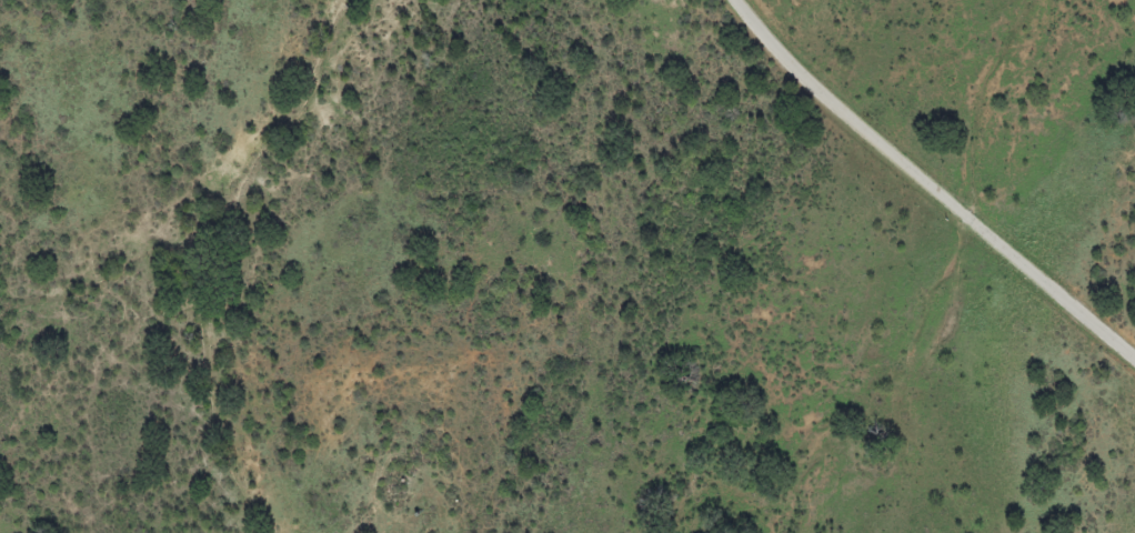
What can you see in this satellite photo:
road: (928, 183)

